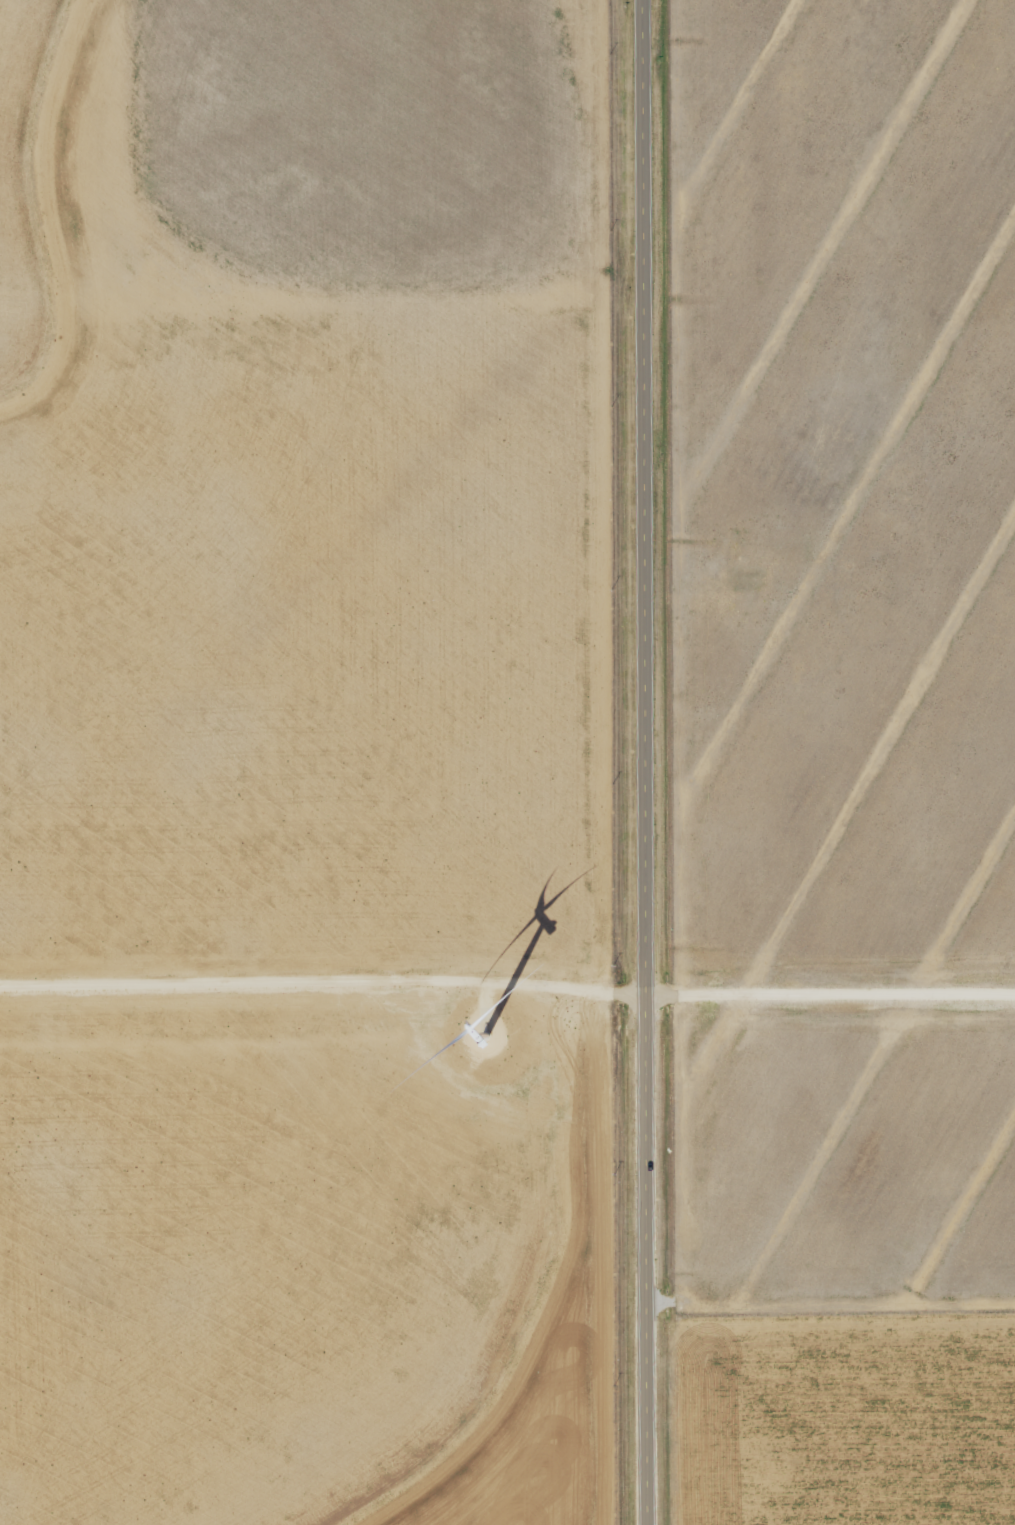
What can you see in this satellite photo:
road: (642, 762)
wind turbine: (485, 1040)

